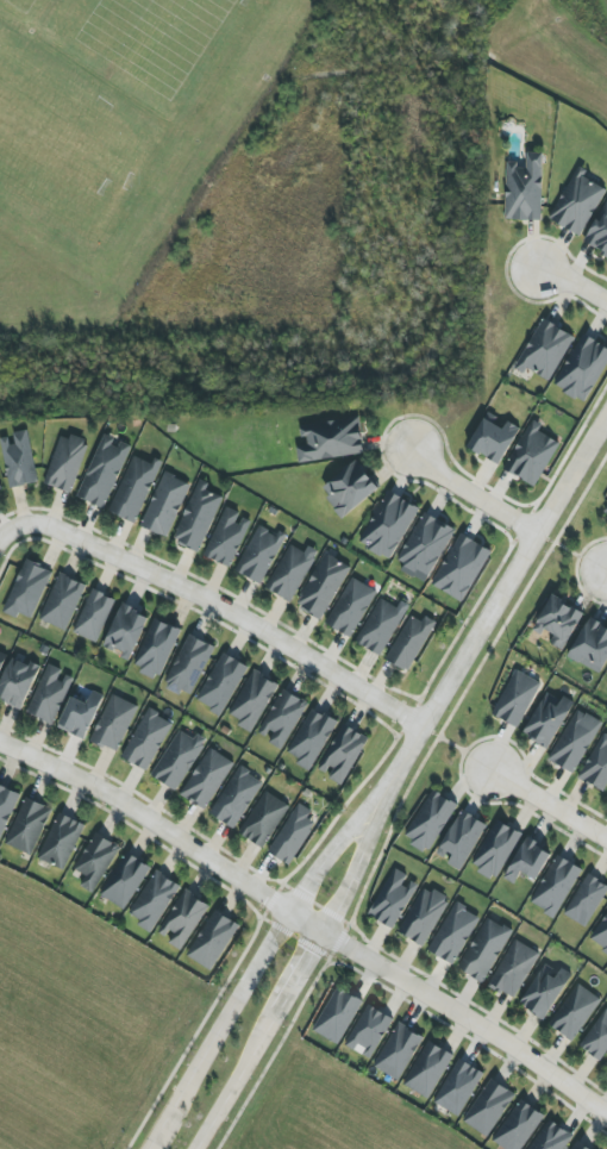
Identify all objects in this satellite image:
building: (524, 188)
building: (577, 205)
building: (599, 232)
road: (571, 282)
park: (605, 283)
building: (545, 350)
building: (583, 369)
building: (494, 438)
building: (331, 439)
building: (532, 454)
building: (19, 458)
building: (67, 463)
building: (104, 472)
building: (0, 487)
building: (134, 488)
building: (350, 488)
road: (470, 493)
building: (165, 505)
building: (606, 512)
building: (198, 518)
building: (388, 524)
road: (12, 527)
building: (227, 537)
building: (425, 548)
building: (261, 554)
building: (461, 568)
building: (292, 572)
building: (323, 586)
road: (503, 587)
building: (27, 589)
building: (62, 601)
building: (351, 607)
road: (231, 613)
building: (94, 616)
building: (557, 622)
building: (381, 625)
building: (126, 631)
building: (409, 643)
building: (592, 647)
building: (156, 649)
building: (1, 660)
building: (189, 664)
building: (606, 680)
building: (18, 682)
building: (221, 683)
building: (50, 694)
building: (517, 699)
building: (252, 700)
building: (80, 714)
building: (282, 719)
building: (547, 719)
building: (114, 723)
building: (311, 738)
building: (146, 739)
building: (575, 741)
building: (343, 754)
building: (179, 758)
building: (596, 766)
building: (207, 779)
building: (237, 797)
road: (549, 801)
building: (6, 807)
building: (263, 819)
building: (430, 820)
building: (27, 826)
building: (293, 835)
building: (461, 839)
building: (61, 841)
building: (495, 849)
building: (527, 861)
building: (95, 862)
building: (126, 881)
building: (556, 886)
building: (393, 899)
building: (154, 900)
building: (587, 900)
building: (424, 916)
building: (183, 919)
road: (307, 922)
building: (453, 933)
building: (601, 935)
building: (213, 941)
building: (484, 949)
road: (268, 951)
road: (305, 960)
building: (514, 969)
building: (545, 991)
building: (575, 1012)
building: (338, 1016)
building: (369, 1031)
building: (596, 1038)
building: (399, 1051)
building: (428, 1069)
building: (458, 1087)
building: (489, 1107)
building: (519, 1126)
building: (551, 1137)
building: (580, 1145)

